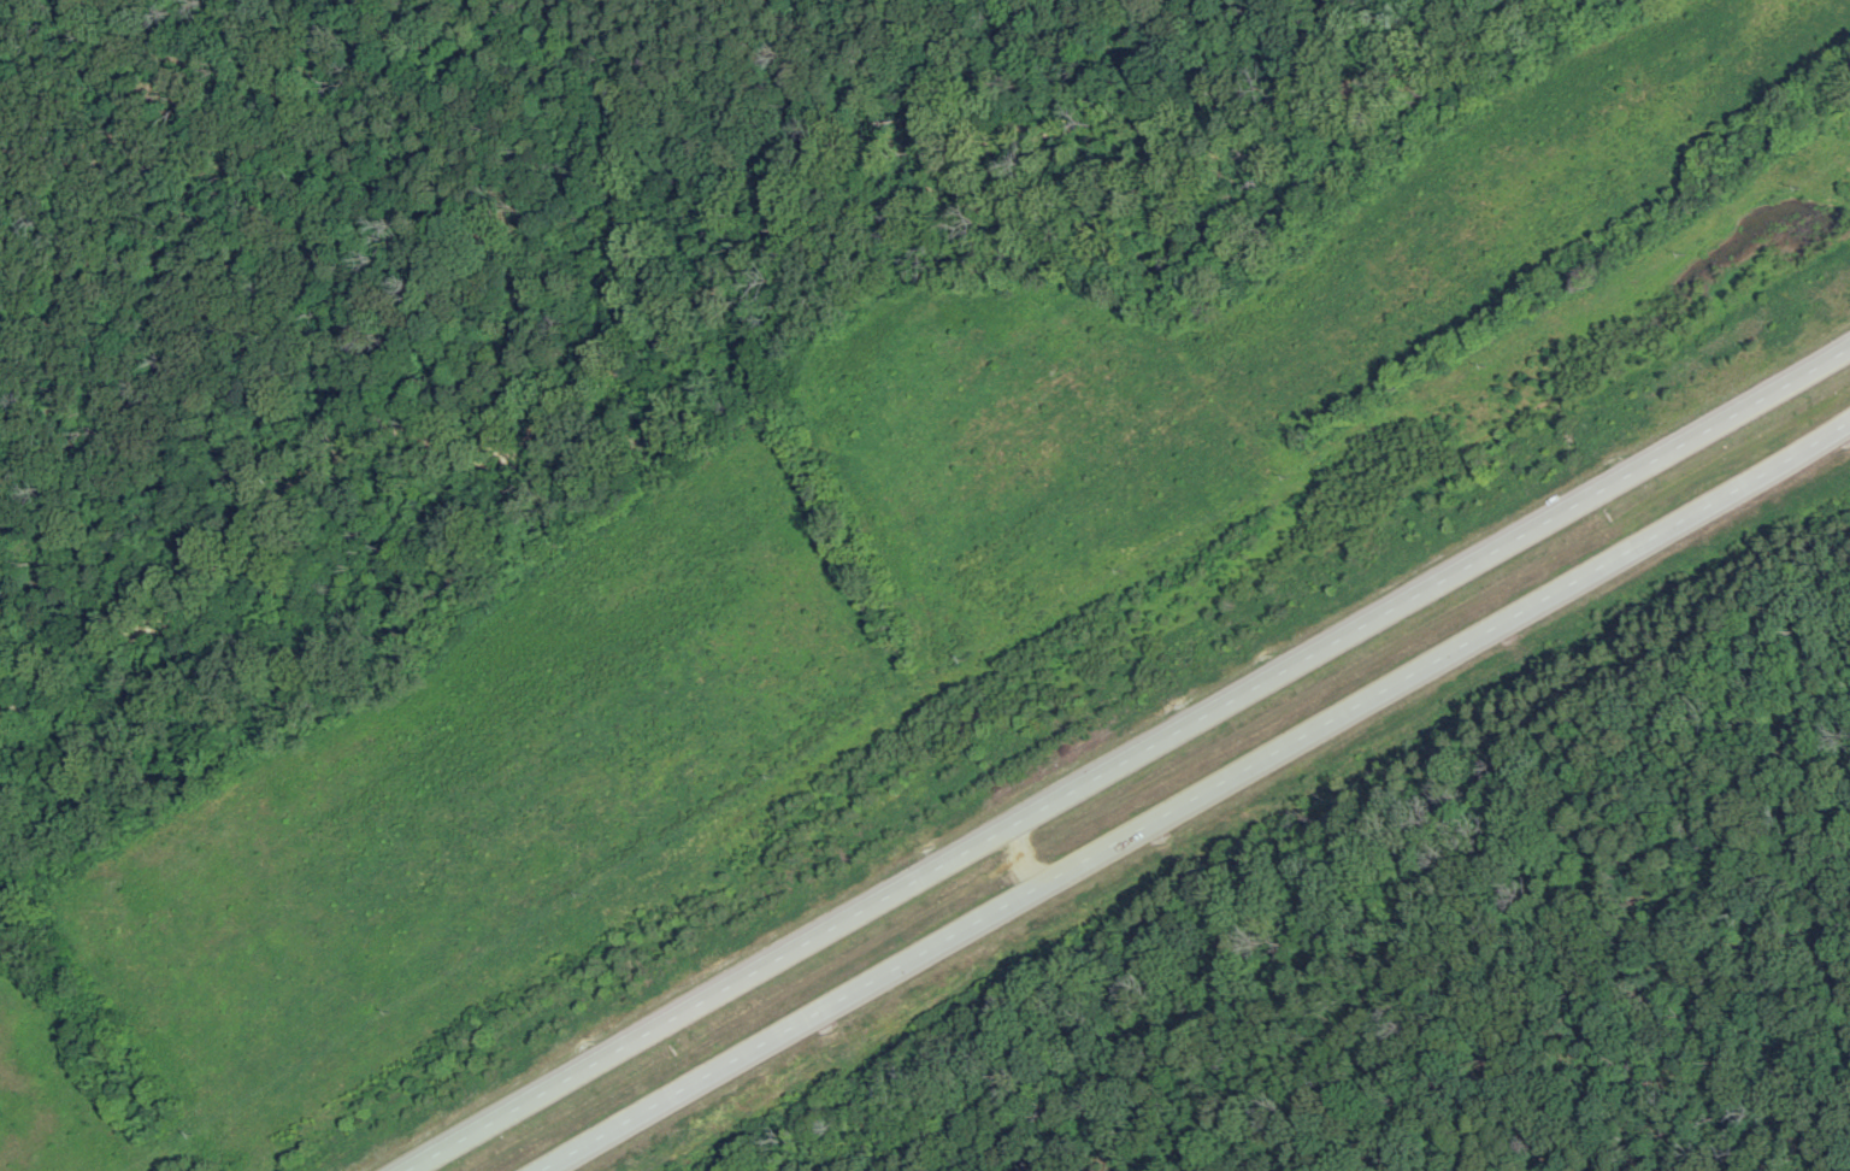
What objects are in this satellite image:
road: (731, 1)
road: (208, 166)
road: (1130, 760)
road: (1194, 788)
road: (1237, 812)

